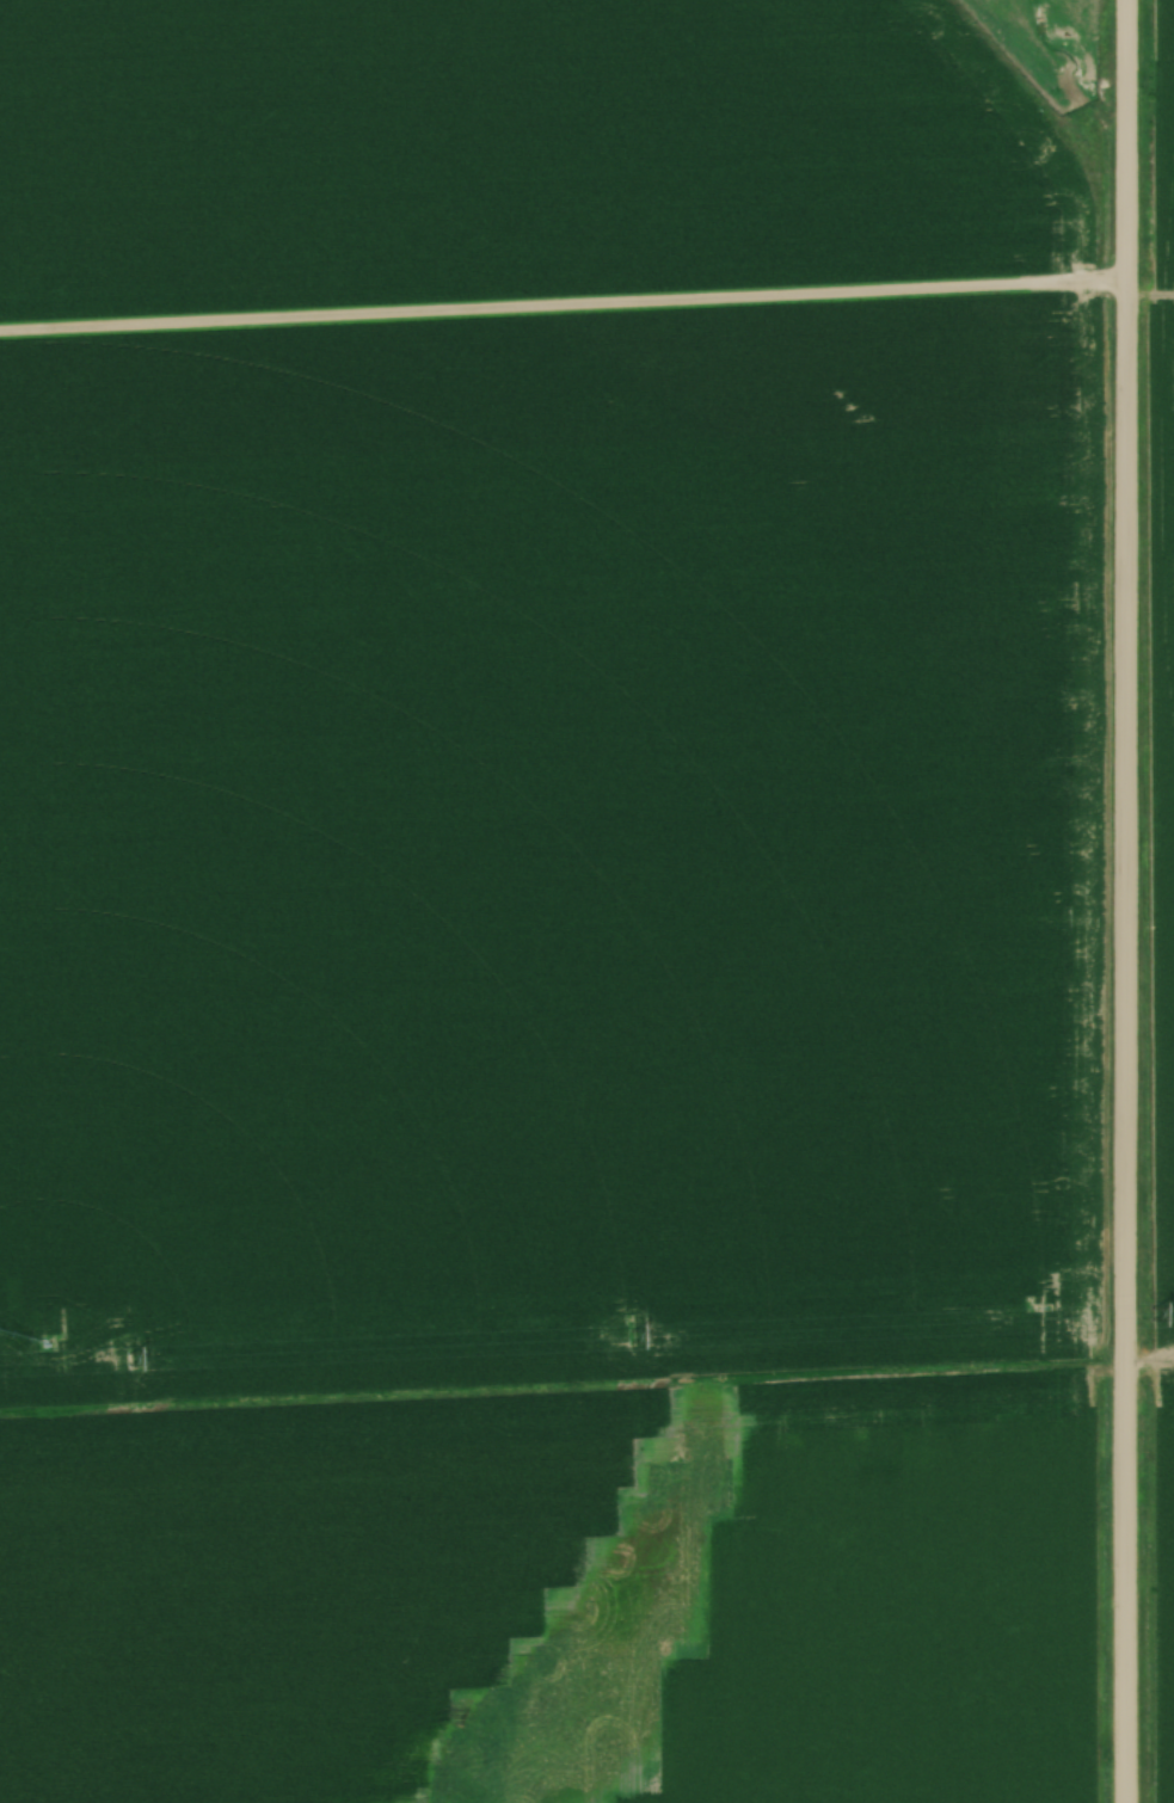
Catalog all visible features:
road: (563, 304)
road: (1126, 900)
power tower: (1150, 1316)
power tower: (633, 1339)
power tower: (131, 1361)

